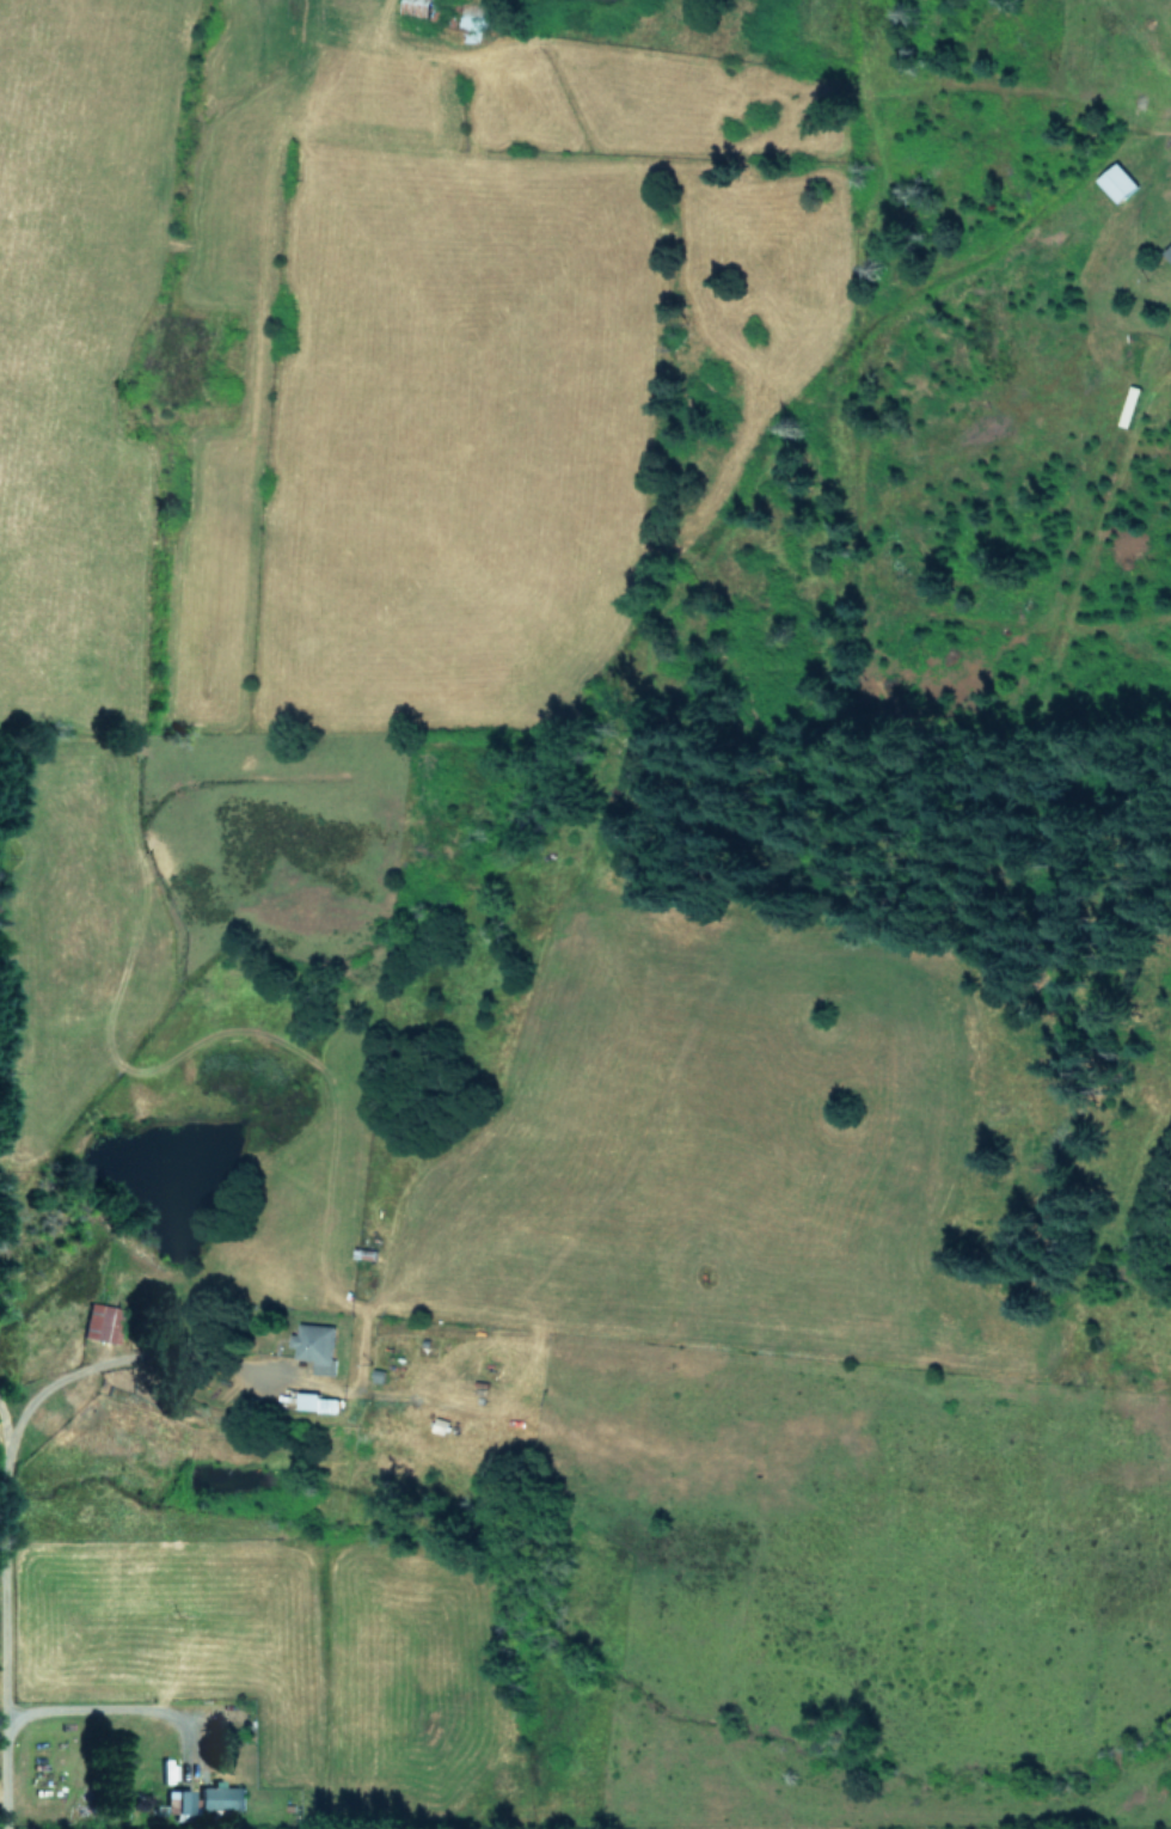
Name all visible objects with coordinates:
building: (1115, 181)
building: (1167, 251)
building: (103, 1321)
building: (313, 1345)
road: (98, 1360)
building: (314, 1401)
road: (2, 1442)
road: (6, 1641)
road: (123, 1707)
building: (220, 1796)
building: (178, 1800)

